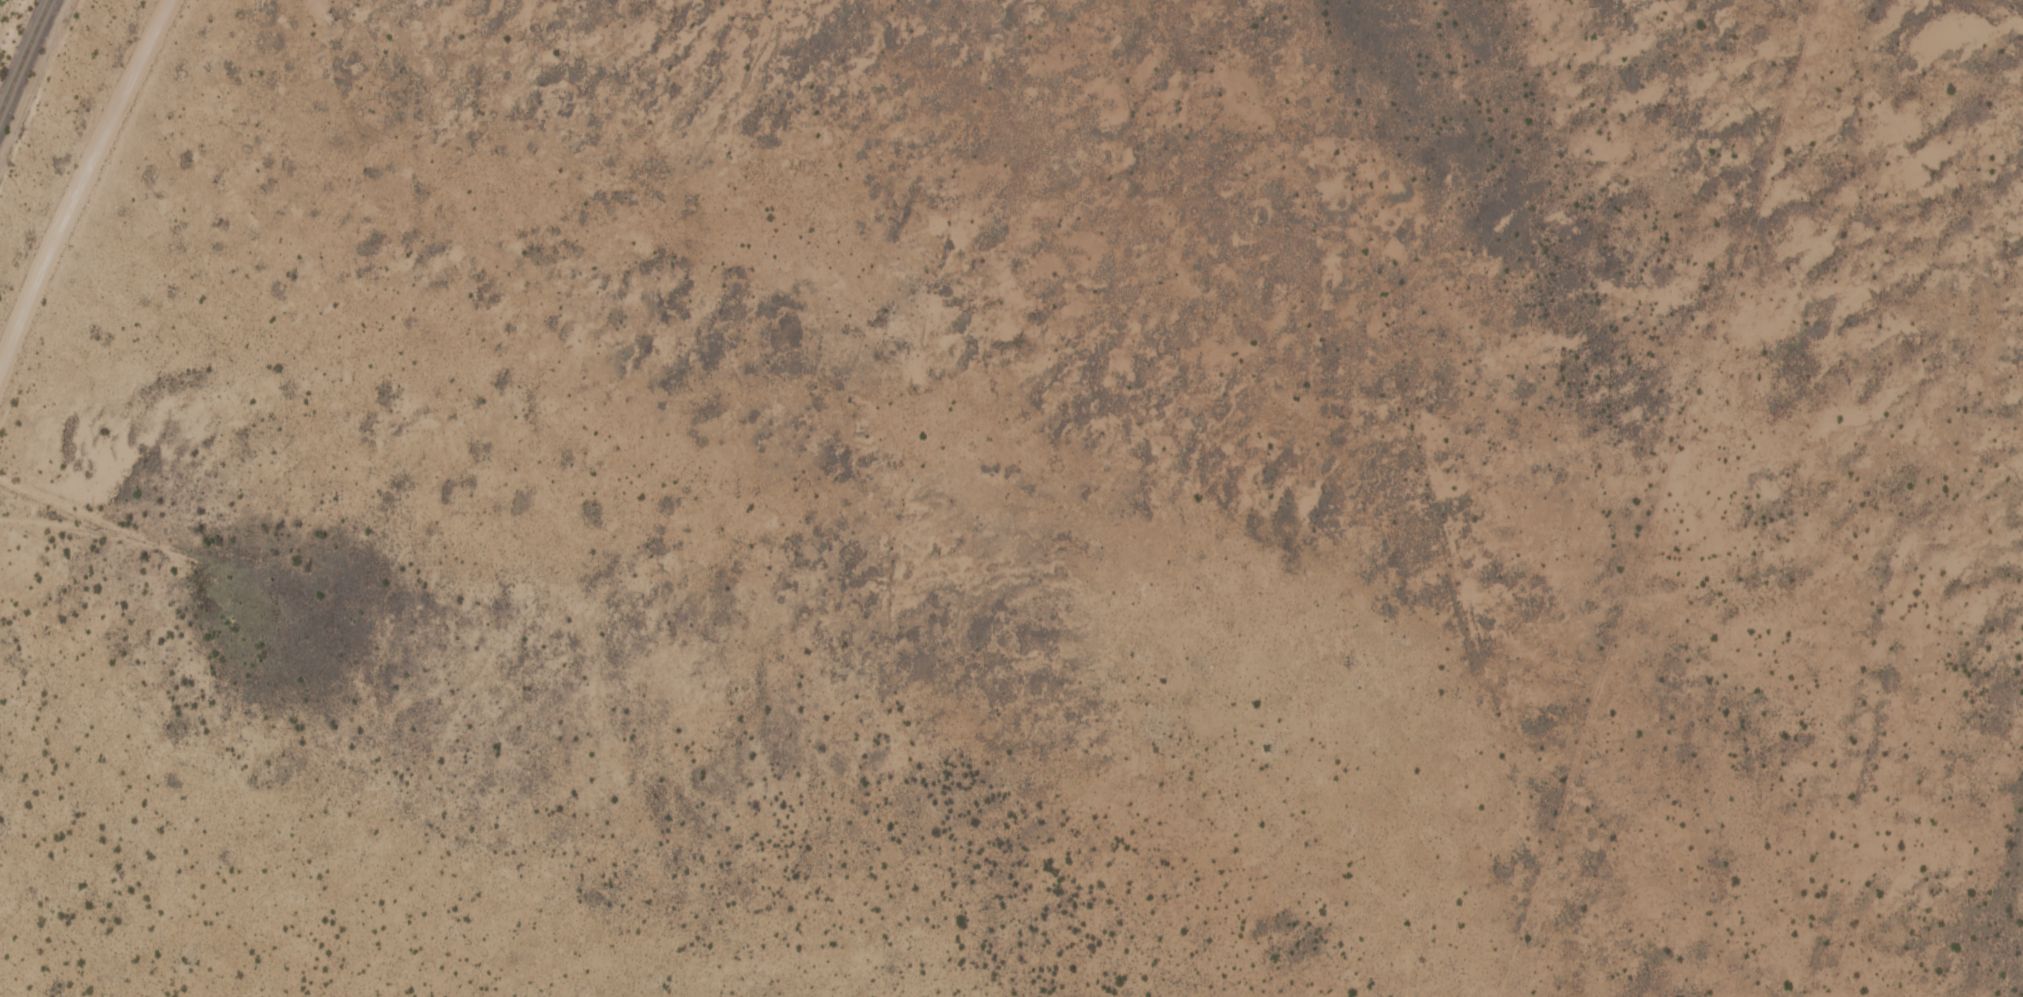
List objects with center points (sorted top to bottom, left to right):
railway: (23, 55)
road: (82, 183)

